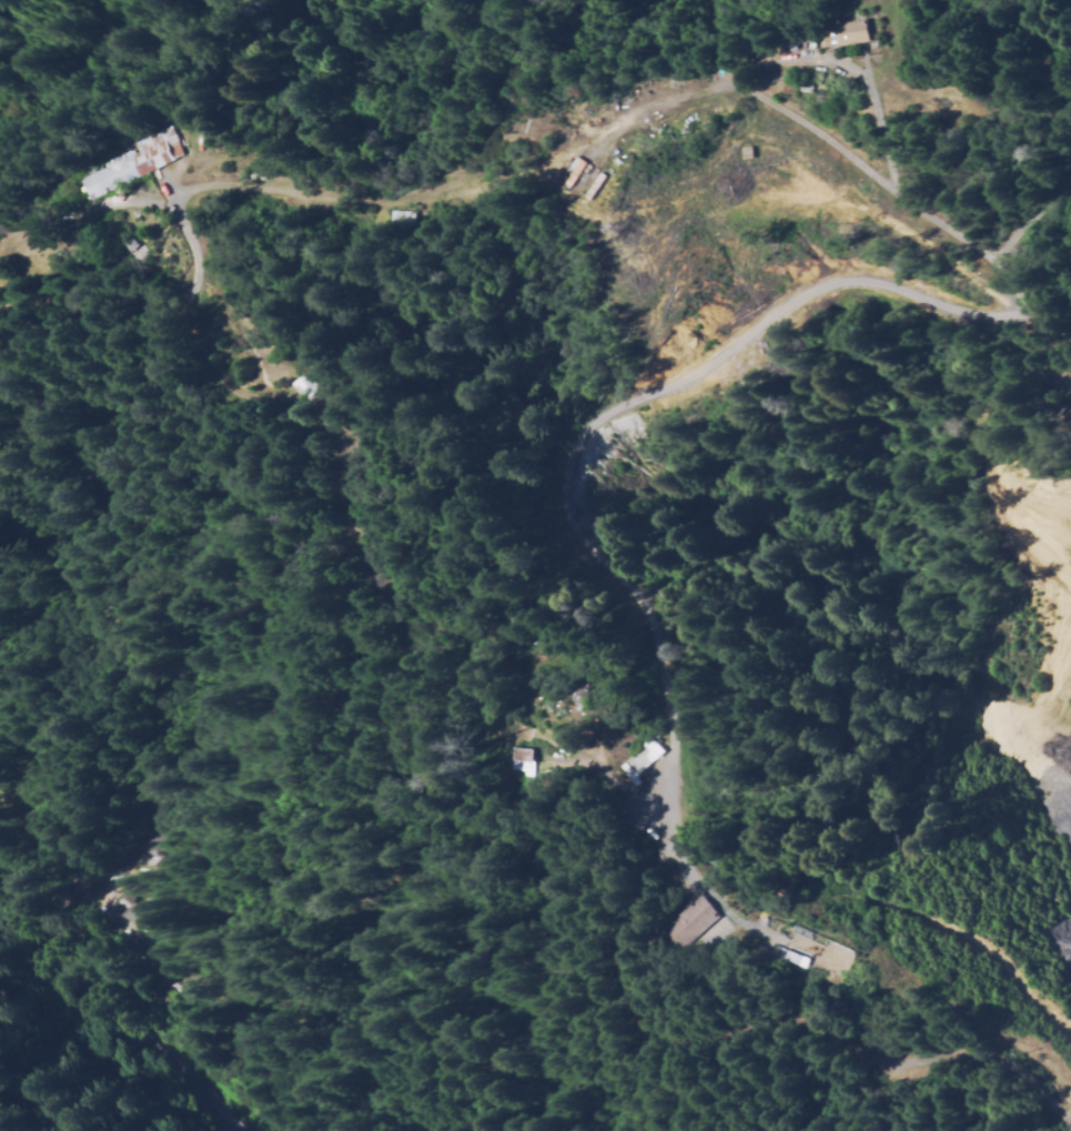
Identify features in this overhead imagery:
building: (843, 23)
building: (855, 32)
building: (794, 38)
building: (667, 72)
building: (617, 84)
building: (602, 87)
building: (188, 115)
building: (137, 161)
road: (95, 164)
building: (572, 170)
building: (592, 183)
building: (404, 216)
building: (133, 242)
building: (1052, 400)
building: (1067, 430)
building: (319, 447)
road: (98, 582)
road: (547, 642)
building: (579, 688)
building: (519, 753)
building: (641, 759)
building: (665, 788)
road: (668, 798)
building: (657, 804)
building: (139, 836)
road: (790, 847)
building: (757, 887)
building: (133, 912)
building: (690, 920)
building: (756, 952)
building: (168, 960)
road: (113, 1022)
road: (428, 1107)

